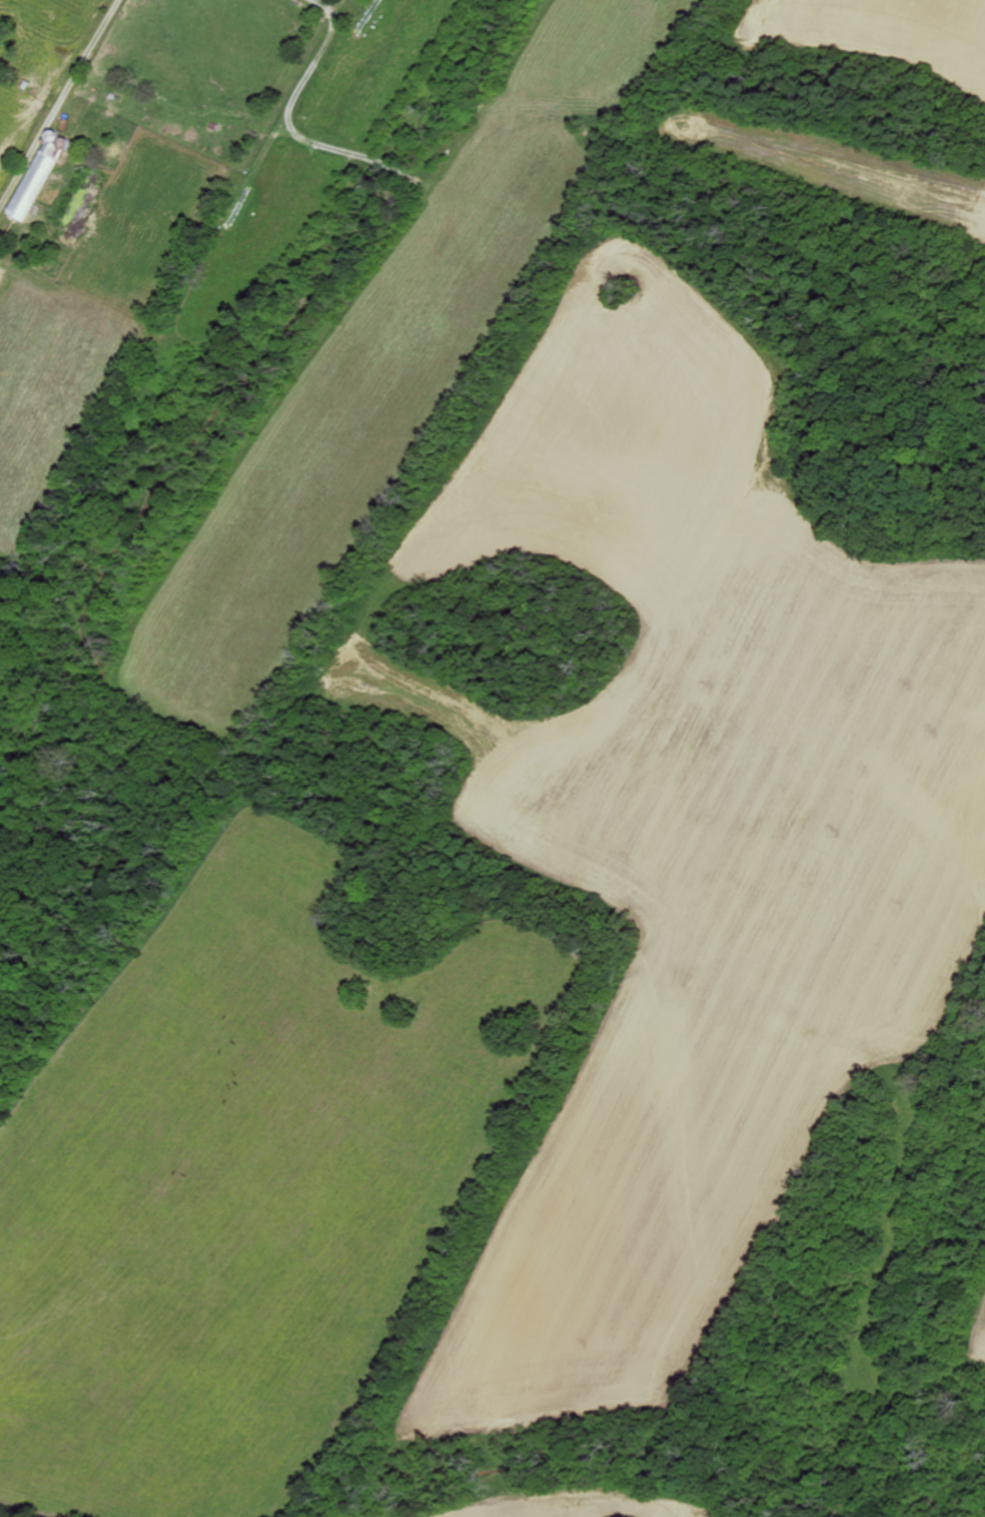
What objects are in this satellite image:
building: (36, 65)
building: (113, 93)
road: (58, 103)
building: (39, 173)

